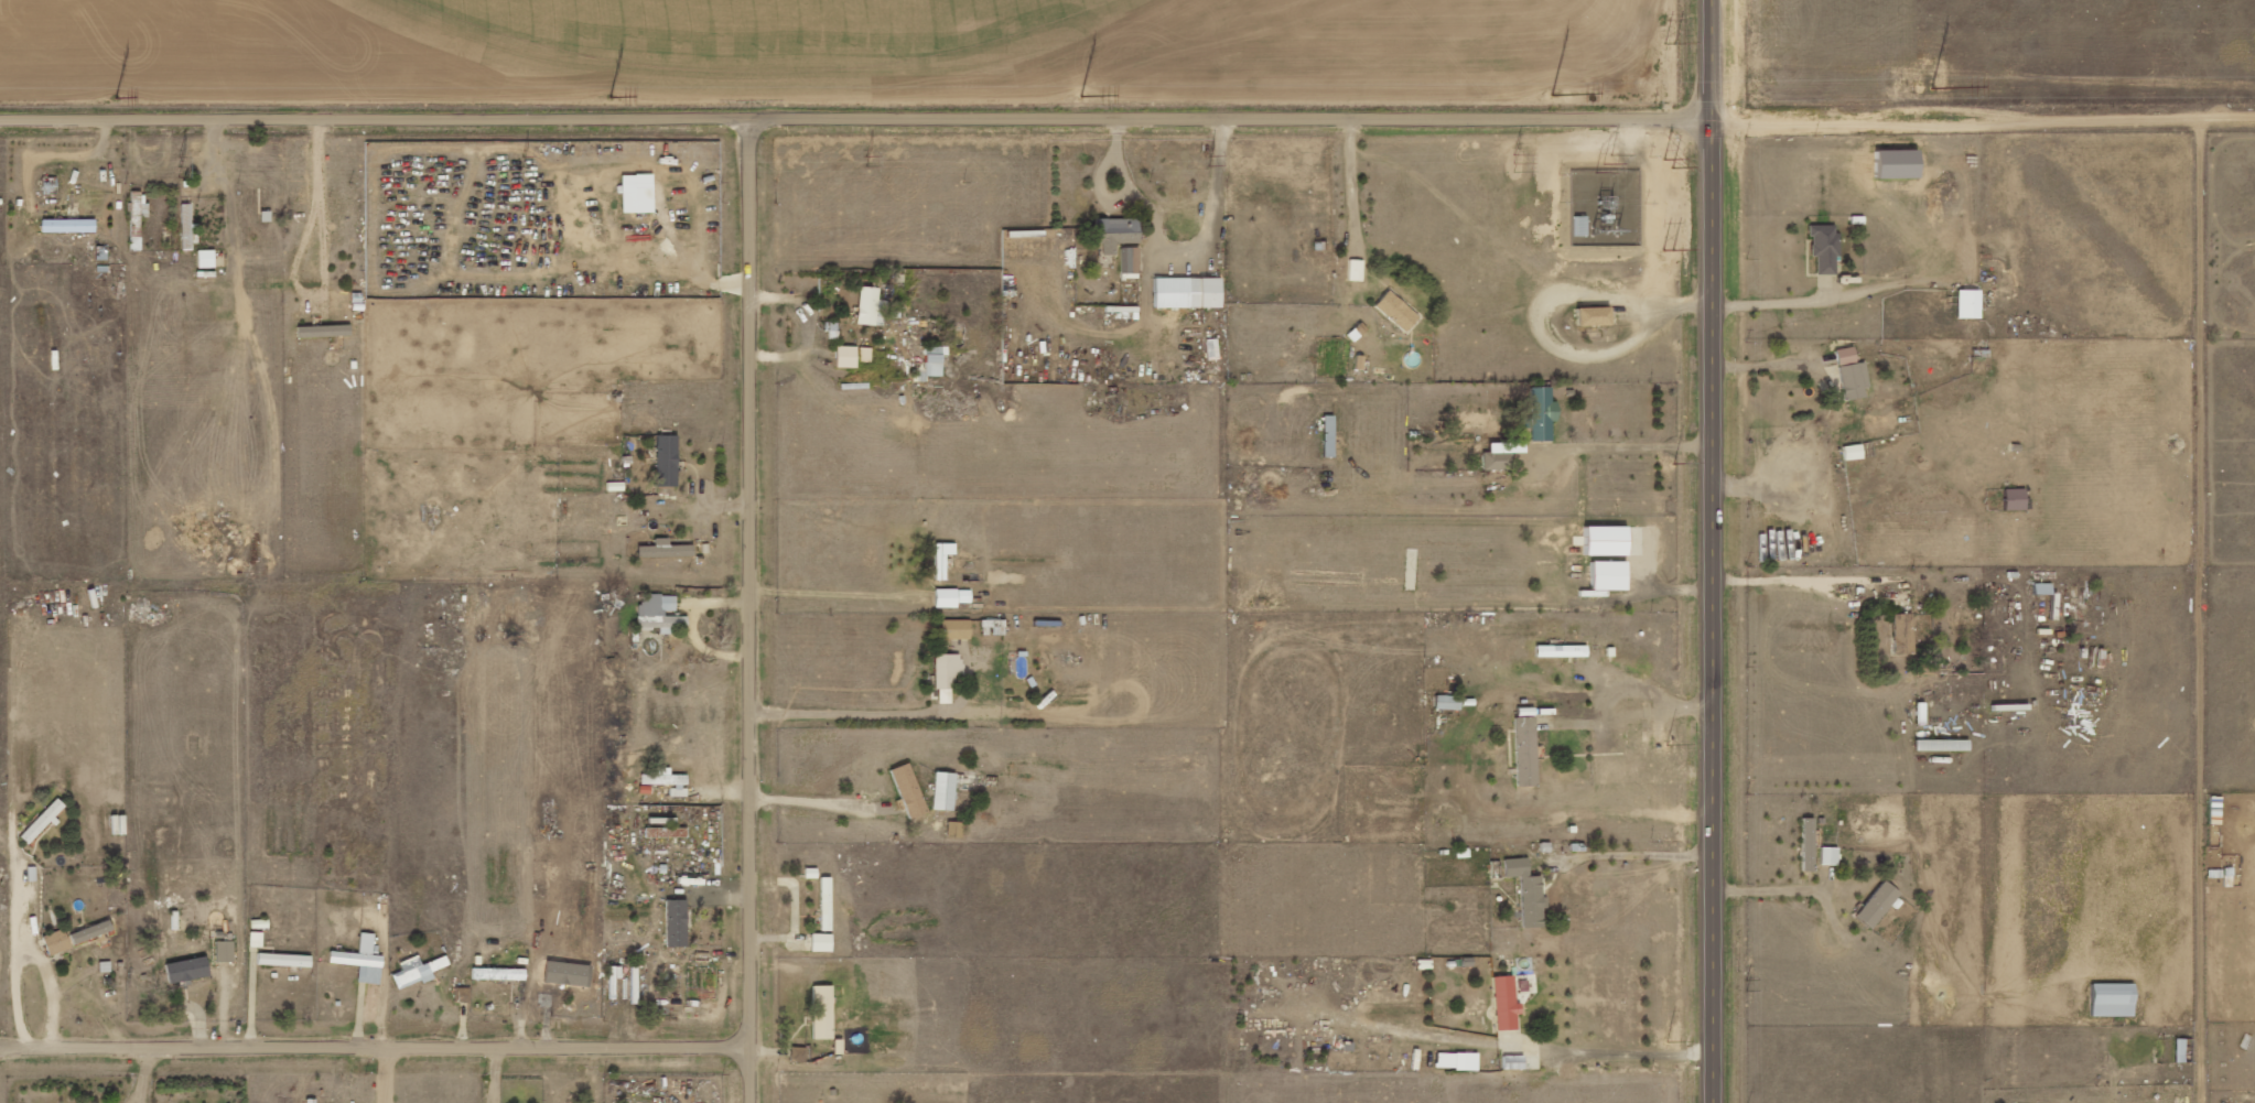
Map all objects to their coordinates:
crop: (765, 29)
power tower: (1918, 90)
power tower: (119, 97)
power tower: (1103, 97)
power tower: (1566, 97)
power tower: (609, 98)
road: (1127, 115)
power tower: (519, 160)
power tower: (1208, 161)
power tower: (864, 162)
power tower: (1668, 163)
building: (1897, 163)
power tower: (1512, 164)
power tower: (1601, 164)
power tower: (179, 165)
building: (645, 193)
power tower: (1666, 199)
building: (139, 204)
power substation: (1603, 207)
building: (68, 225)
building: (186, 227)
building: (1116, 233)
building: (1824, 247)
building: (206, 258)
building: (1130, 260)
building: (1188, 292)
building: (1968, 304)
building: (871, 306)
building: (1396, 311)
building: (1595, 316)
building: (324, 331)
building: (1846, 355)
building: (852, 356)
building: (934, 360)
building: (1855, 380)
building: (1542, 413)
building: (1329, 435)
building: (1853, 452)
building: (667, 461)
building: (1497, 461)
building: (2015, 499)
power tower: (1670, 518)
building: (1606, 541)
building: (665, 549)
road: (1712, 551)
building: (942, 559)
building: (1610, 575)
building: (951, 597)
building: (612, 601)
road: (752, 609)
building: (657, 613)
building: (993, 627)
building: (956, 629)
building: (1910, 631)
building: (1562, 651)
building: (947, 677)
building: (1448, 703)
building: (1525, 750)
building: (668, 781)
building: (909, 790)
building: (943, 791)
building: (43, 821)
building: (118, 824)
building: (665, 828)
building: (954, 829)
building: (1808, 844)
building: (1830, 855)
power tower: (1671, 887)
building: (1528, 891)
building: (827, 899)
building: (1878, 904)
building: (677, 922)
building: (93, 931)
building: (57, 941)
building: (822, 942)
building: (225, 951)
building: (284, 960)
building: (363, 960)
building: (187, 970)
building: (417, 971)
building: (613, 977)
building: (547, 998)
building: (2114, 999)
building: (1506, 1003)
building: (823, 1012)
road: (375, 1046)
building: (798, 1053)
building: (1457, 1060)
building: (1513, 1062)

